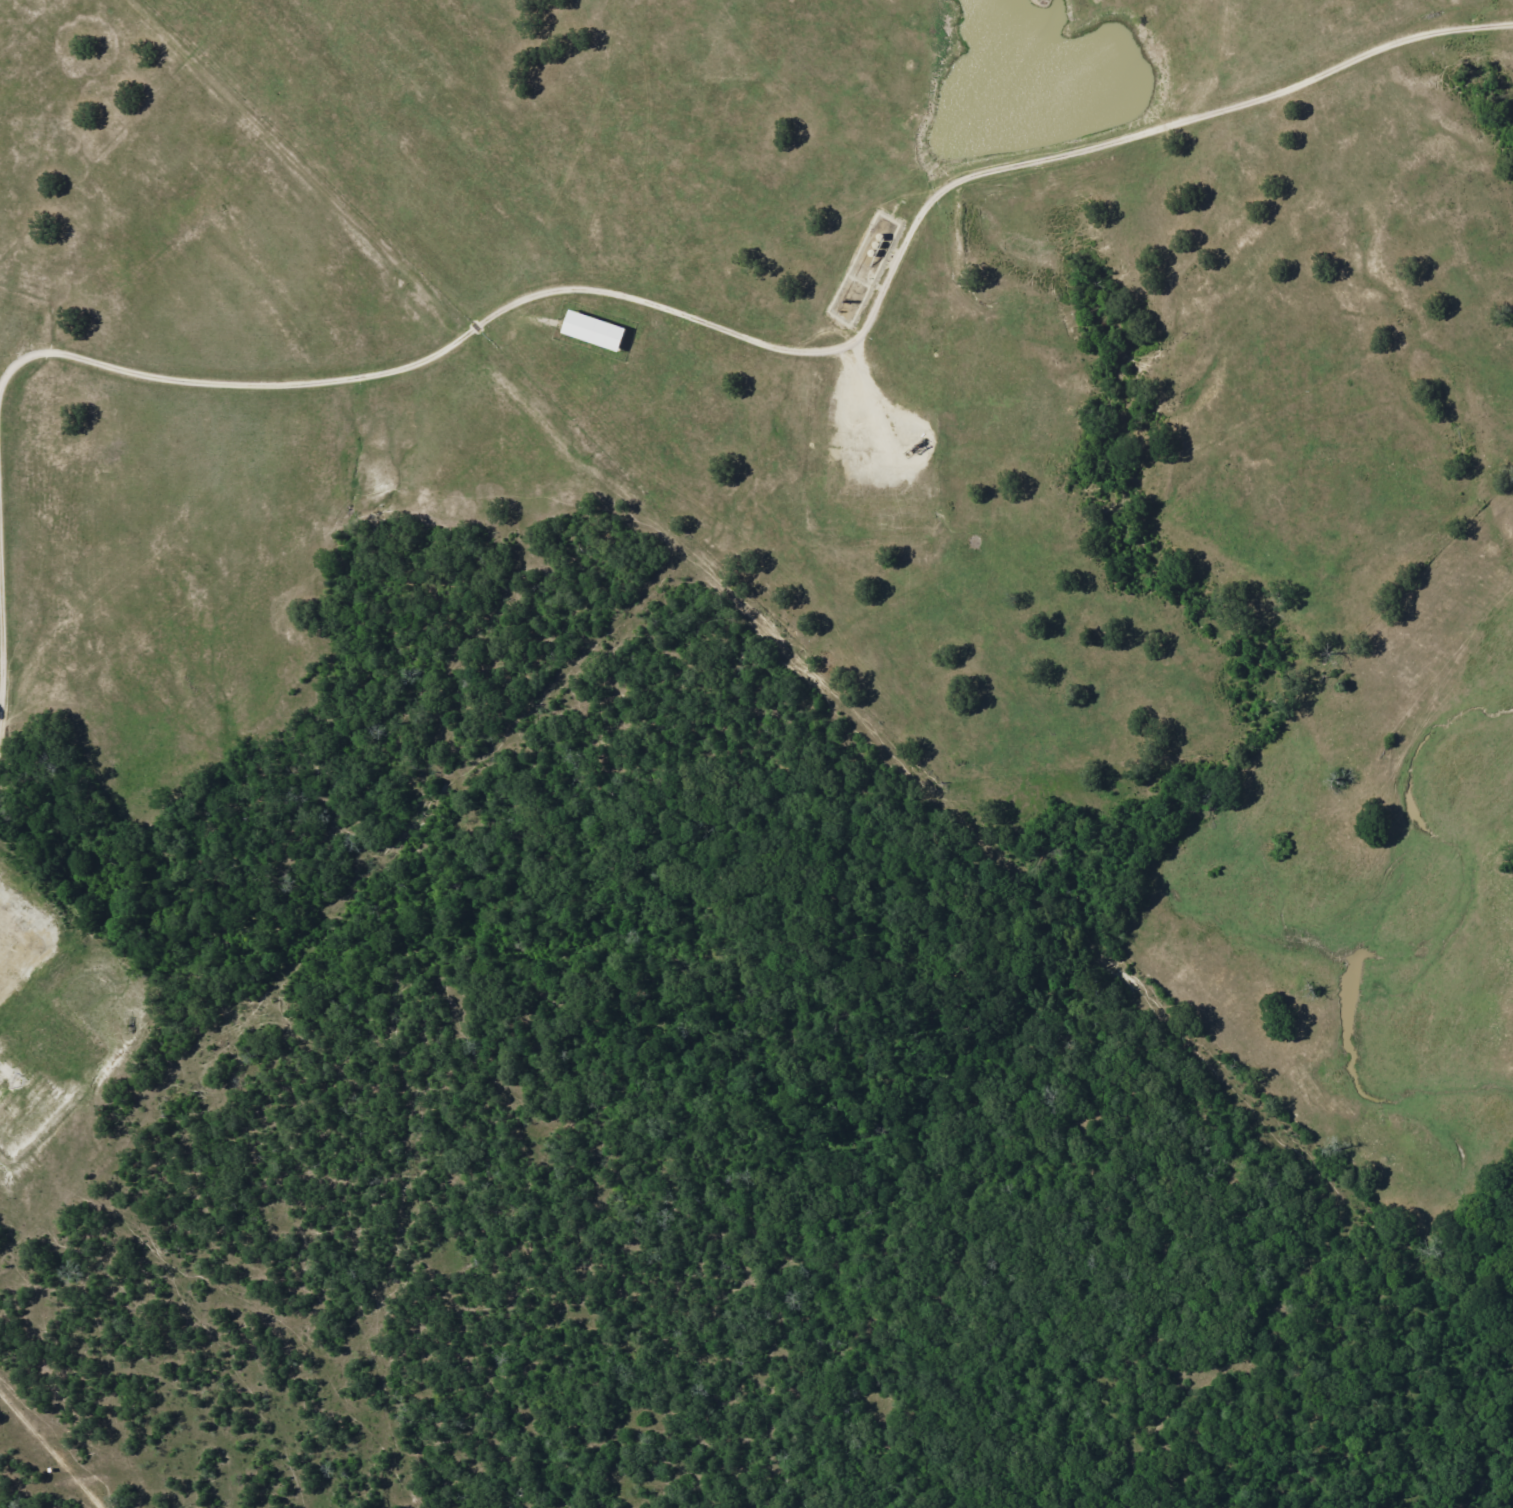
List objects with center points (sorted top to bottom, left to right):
building: (593, 331)
petroleum well: (918, 445)

